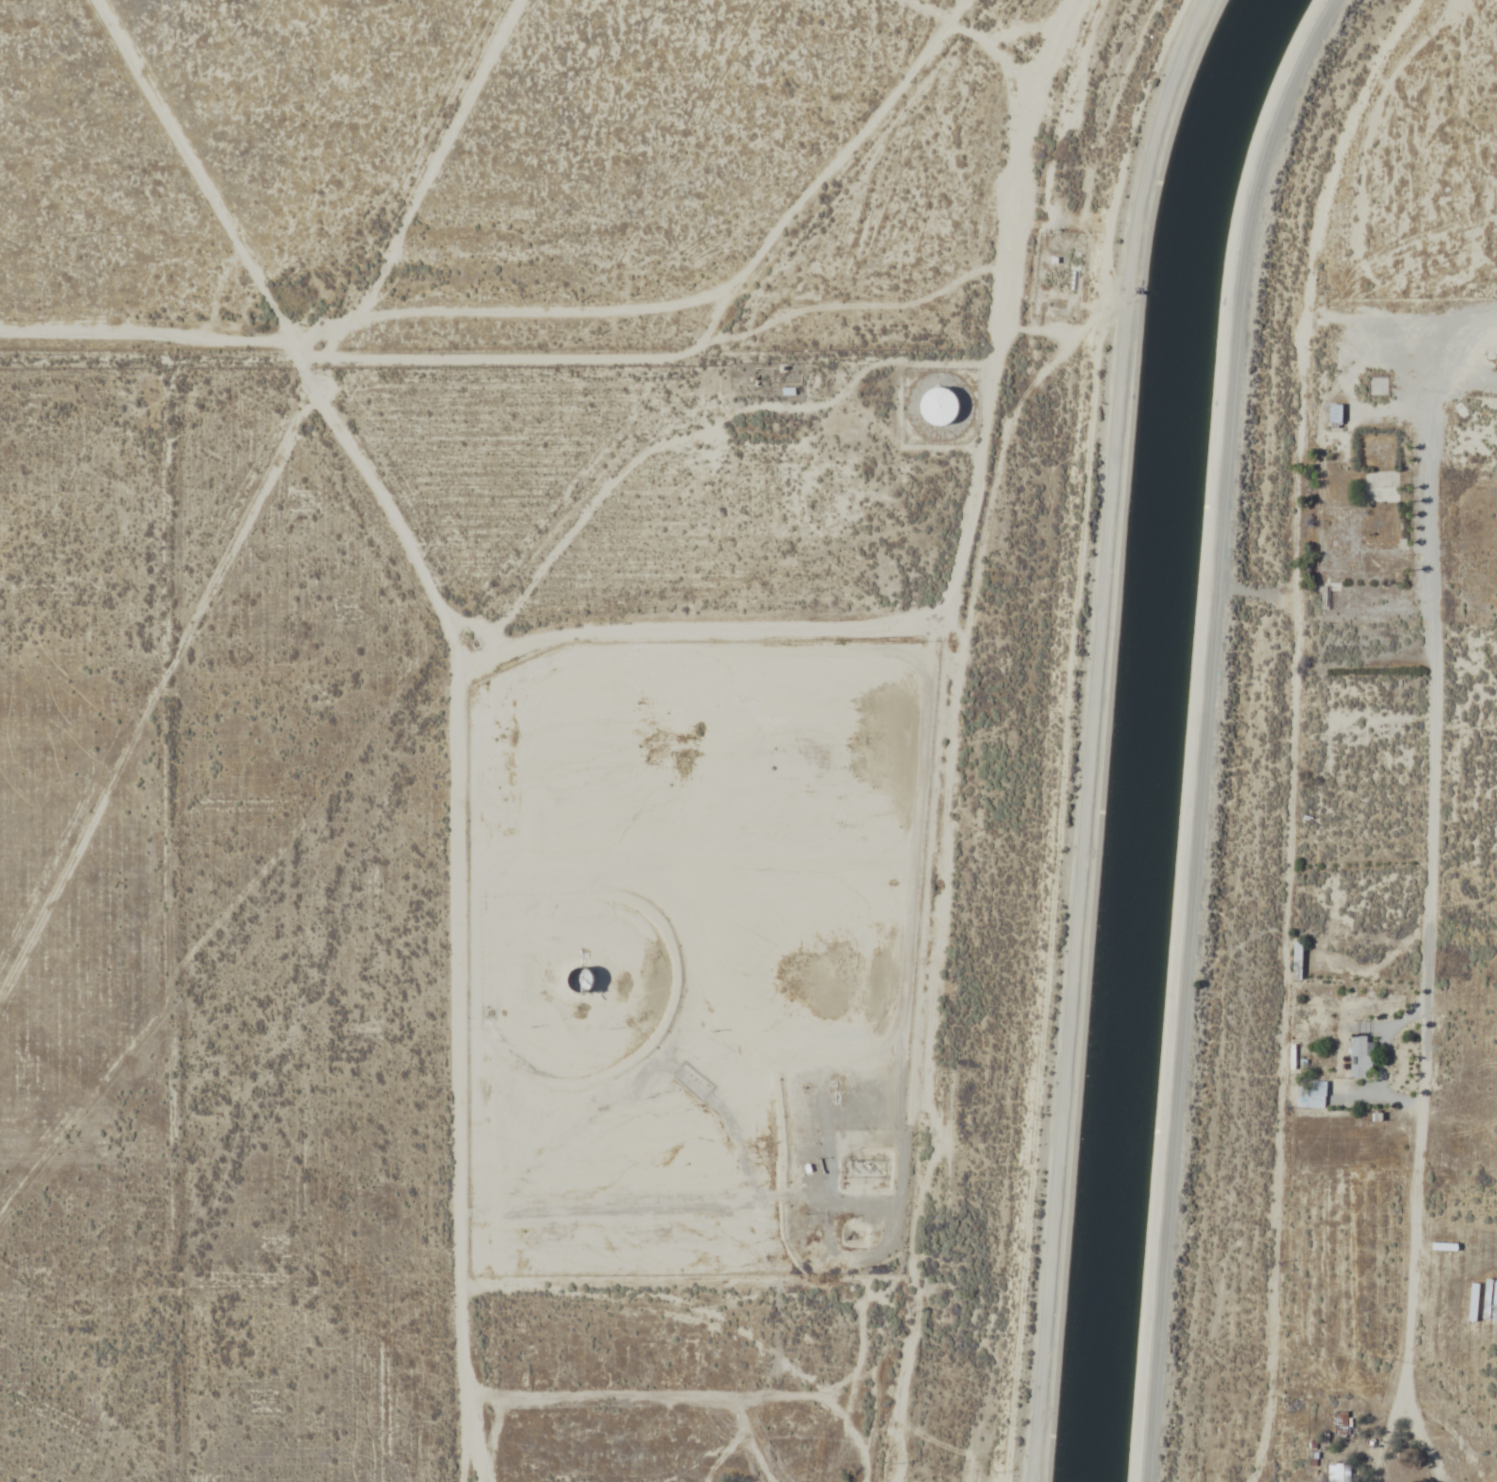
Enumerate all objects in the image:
road: (844, 61)
building: (940, 406)
building: (1336, 414)
road: (966, 547)
road: (1206, 732)
road: (407, 734)
road: (1090, 735)
road: (1426, 852)
building: (1295, 960)
building: (587, 981)
road: (929, 1045)
building: (1359, 1056)
building: (1308, 1093)
road: (544, 1303)
road: (250, 1324)
road: (454, 1395)
road: (1415, 1415)
building: (1339, 1424)
building: (1336, 1473)

